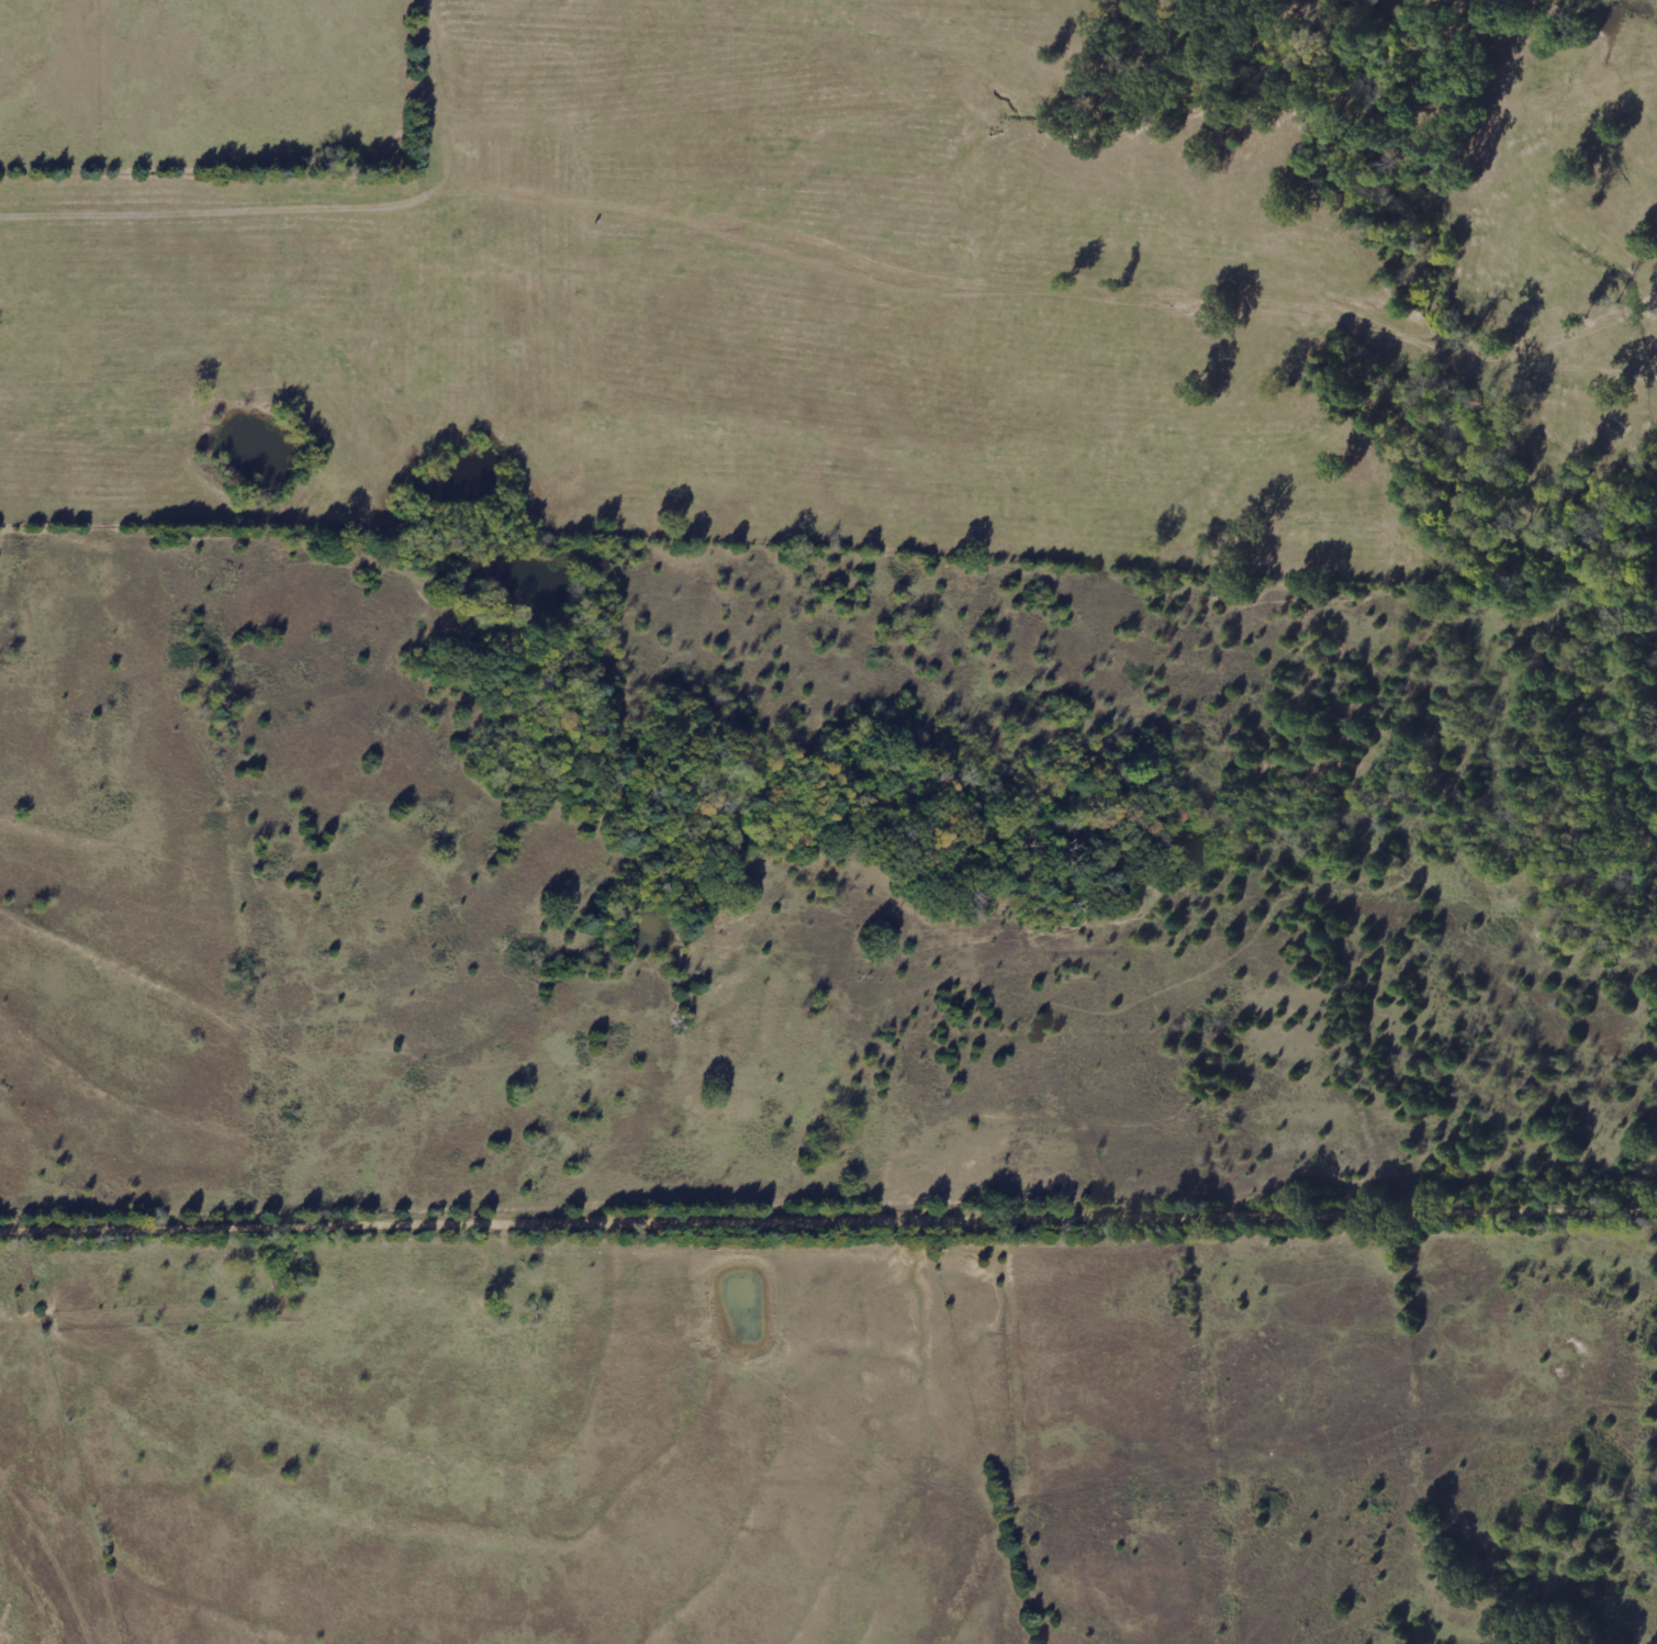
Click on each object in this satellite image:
road: (829, 1224)

